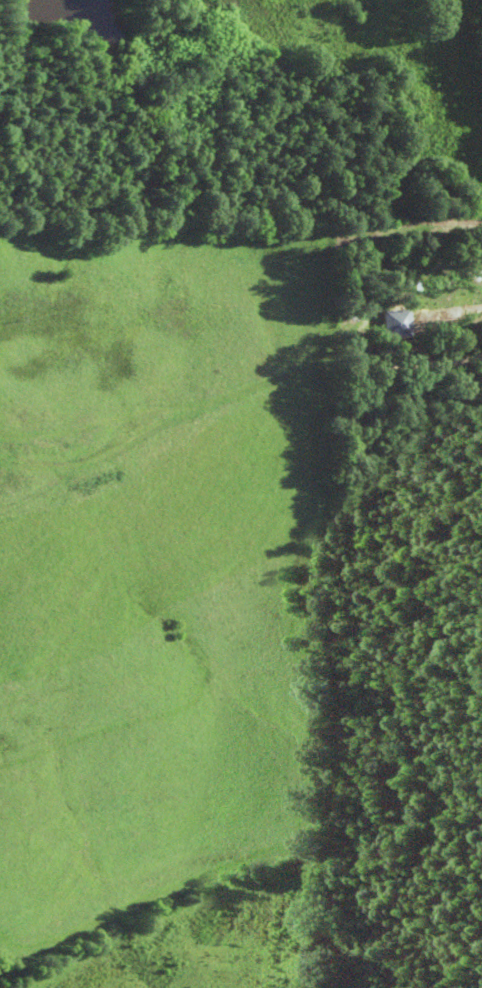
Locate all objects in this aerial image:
road: (239, 391)

